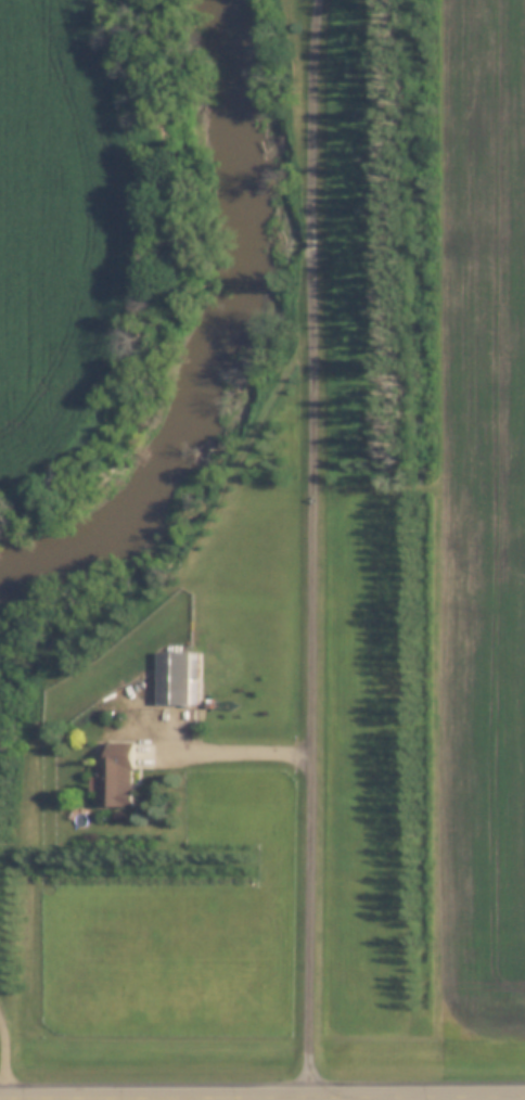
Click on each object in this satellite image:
river: (220, 329)
road: (317, 549)
building: (170, 678)
road: (233, 749)
building: (113, 776)
road: (4, 1061)
road: (4, 1099)

